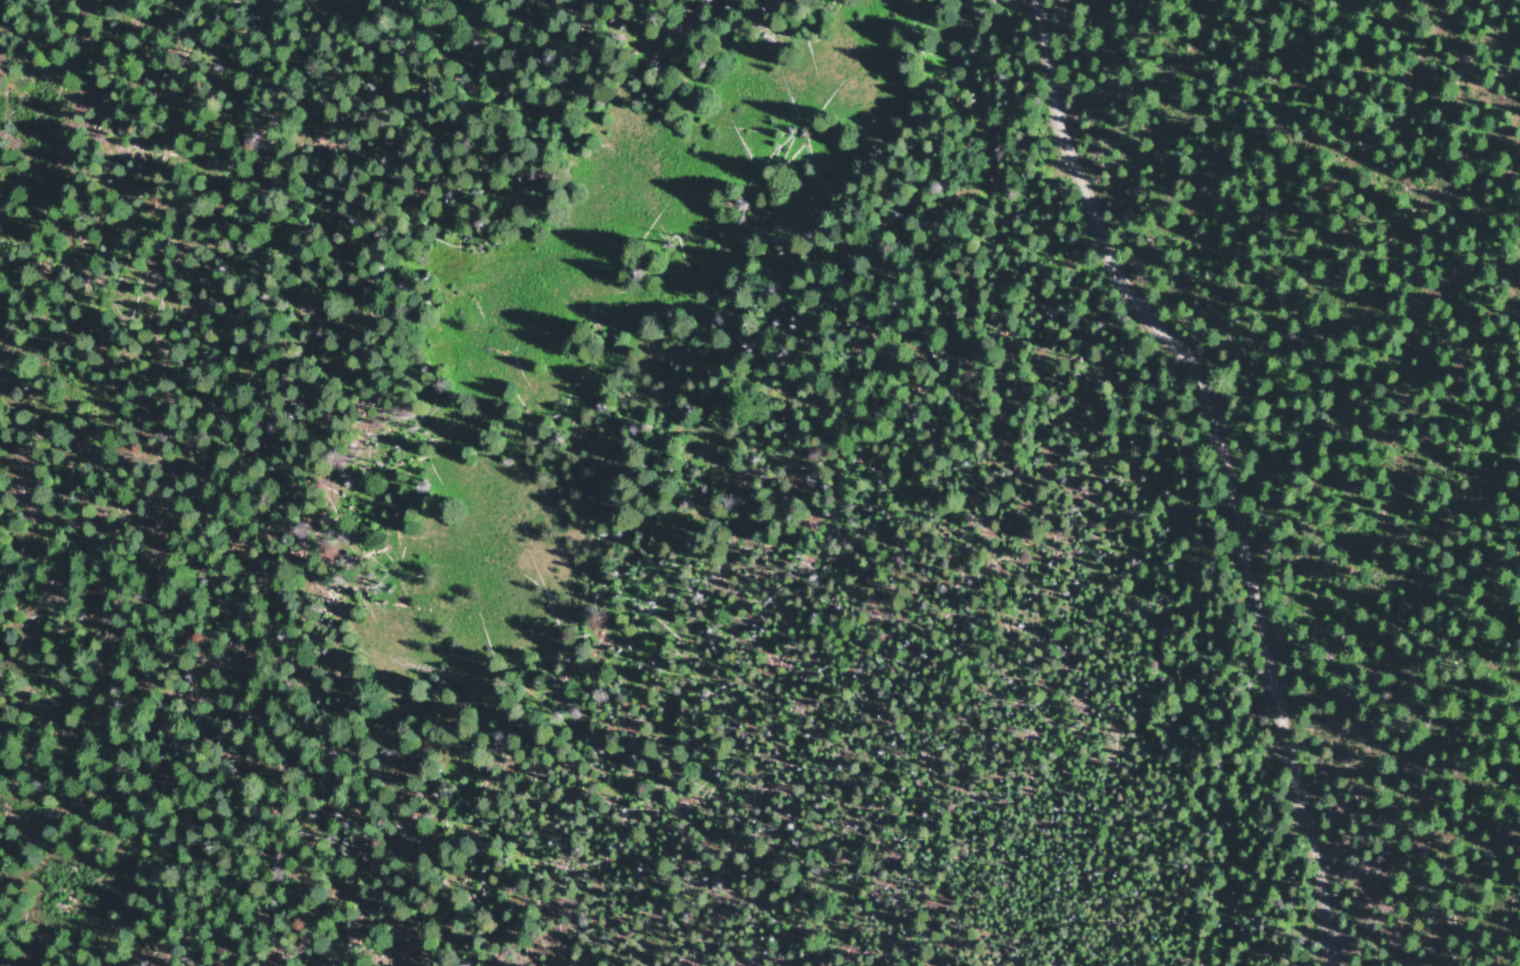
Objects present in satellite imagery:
road: (1224, 466)

